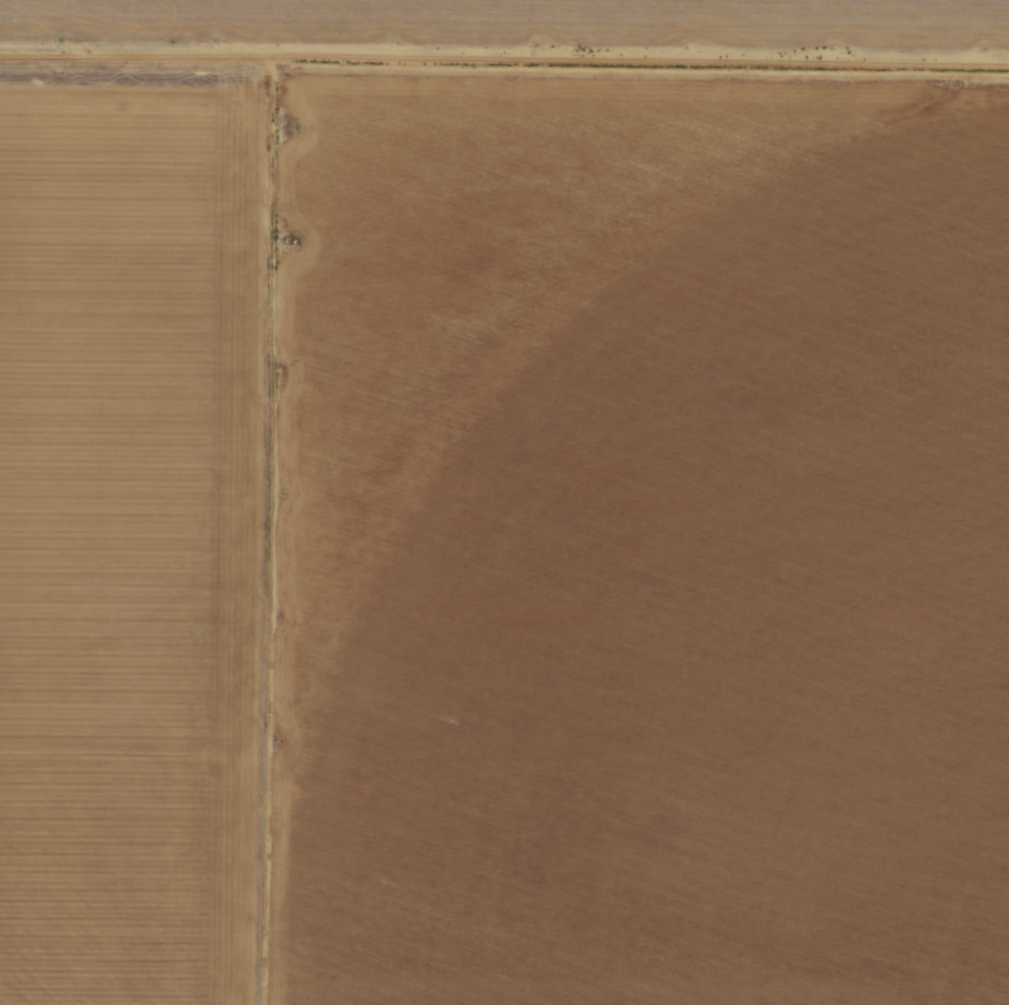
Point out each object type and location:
road: (416, 62)
road: (921, 68)
road: (269, 532)

